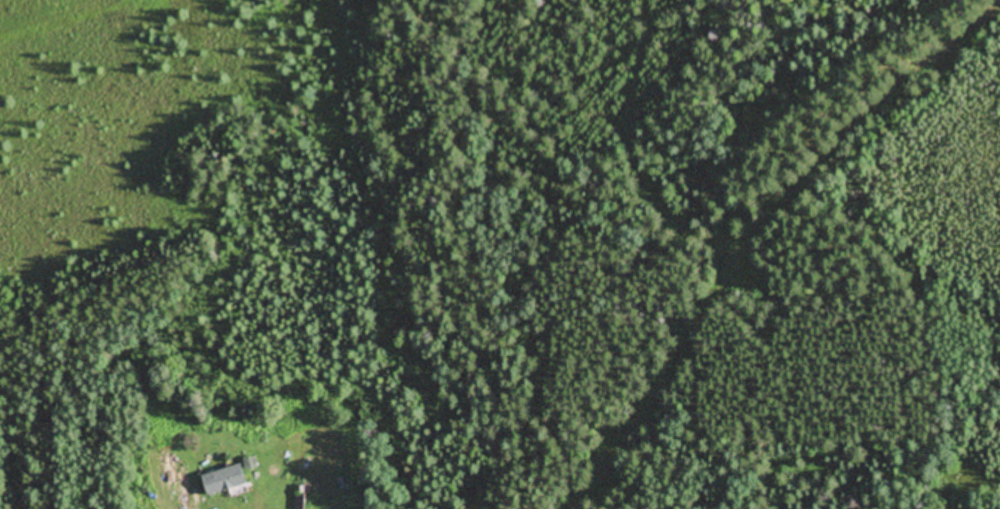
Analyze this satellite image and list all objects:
building: (227, 481)
building: (301, 498)

